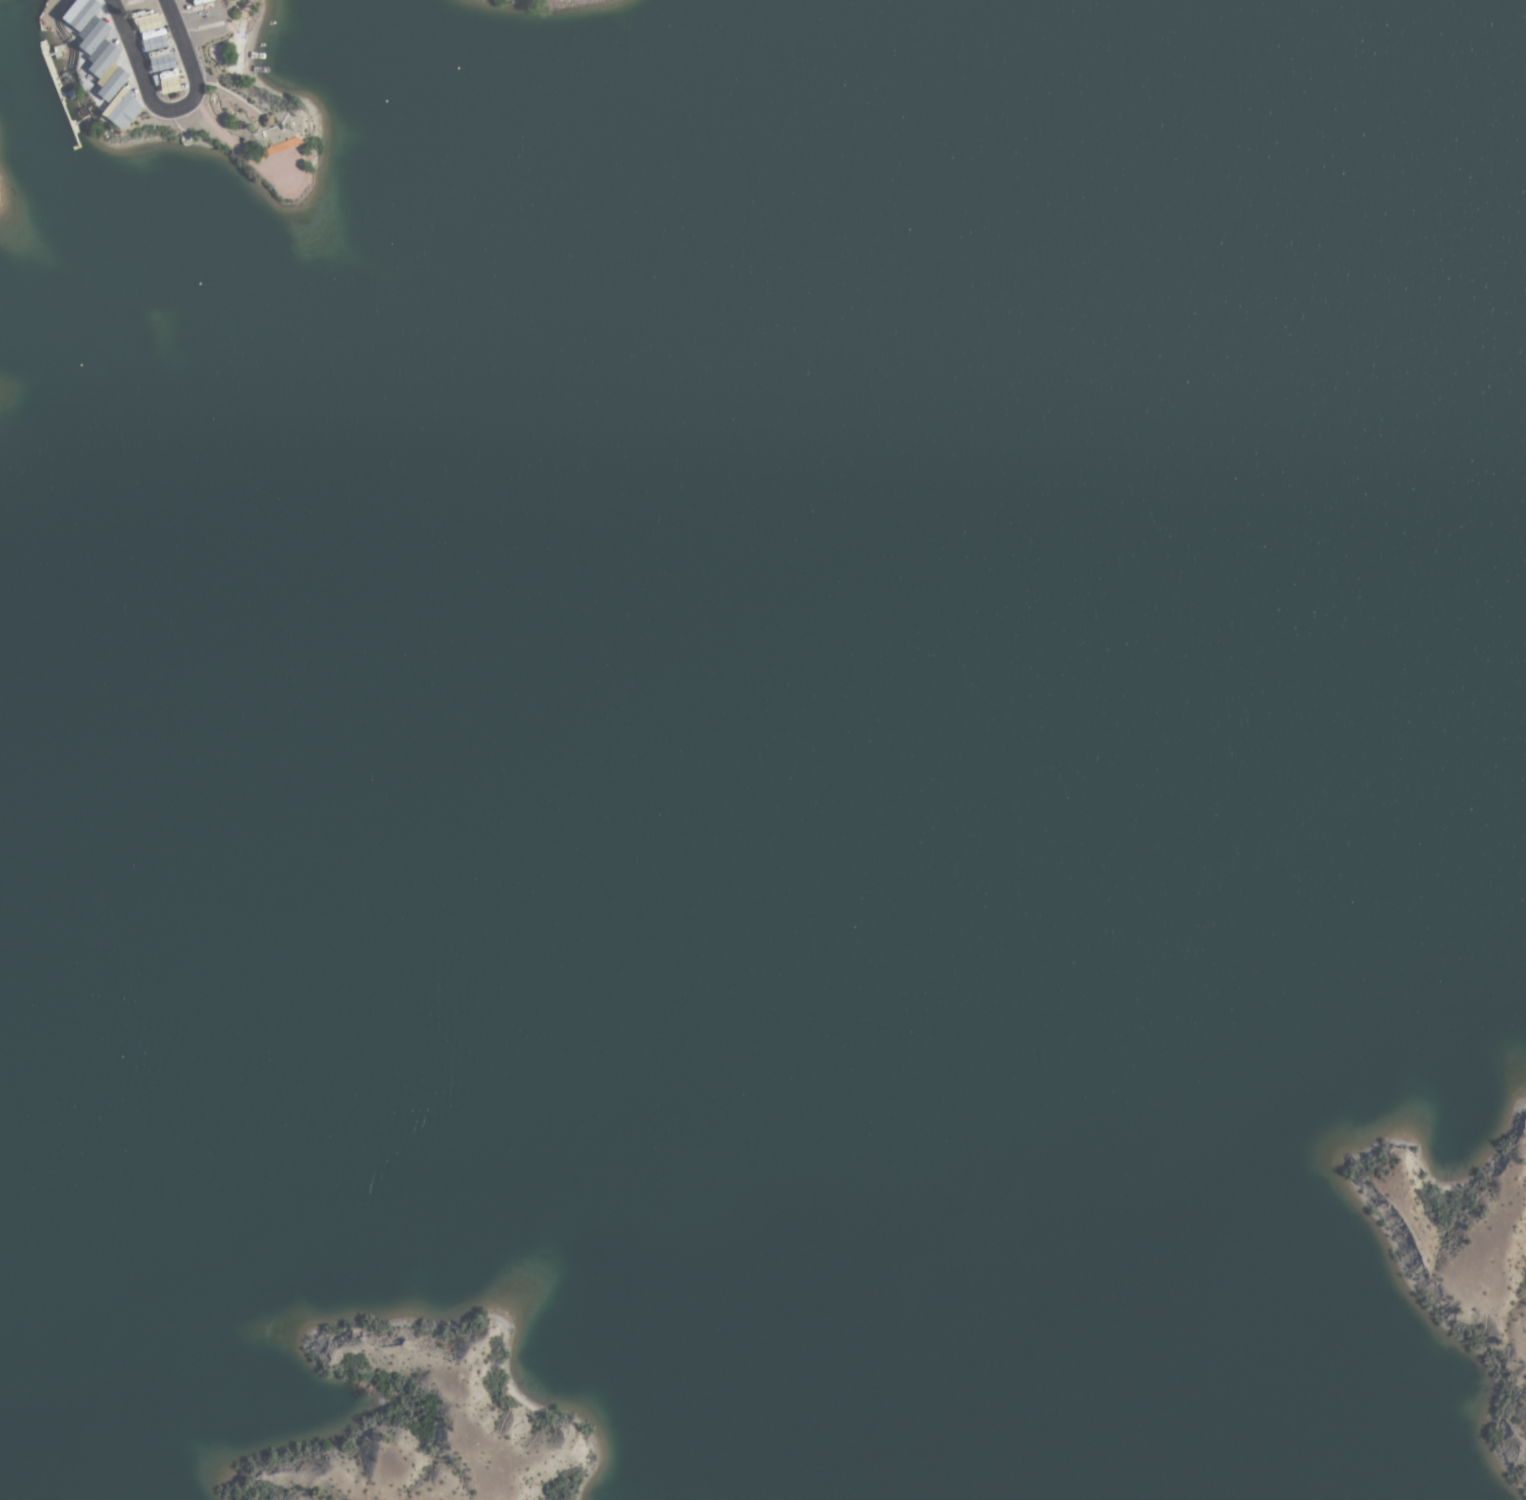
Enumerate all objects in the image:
building: (123, 110)
road: (169, 111)
river: (763, 791)

